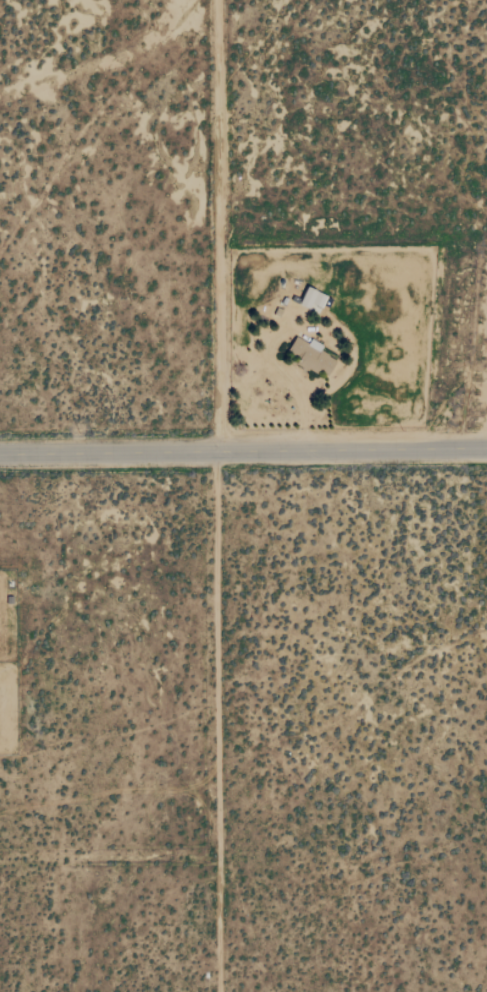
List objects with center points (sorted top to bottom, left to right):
road: (217, 226)
building: (309, 298)
building: (311, 356)
road: (243, 452)
road: (219, 655)
road: (109, 860)

